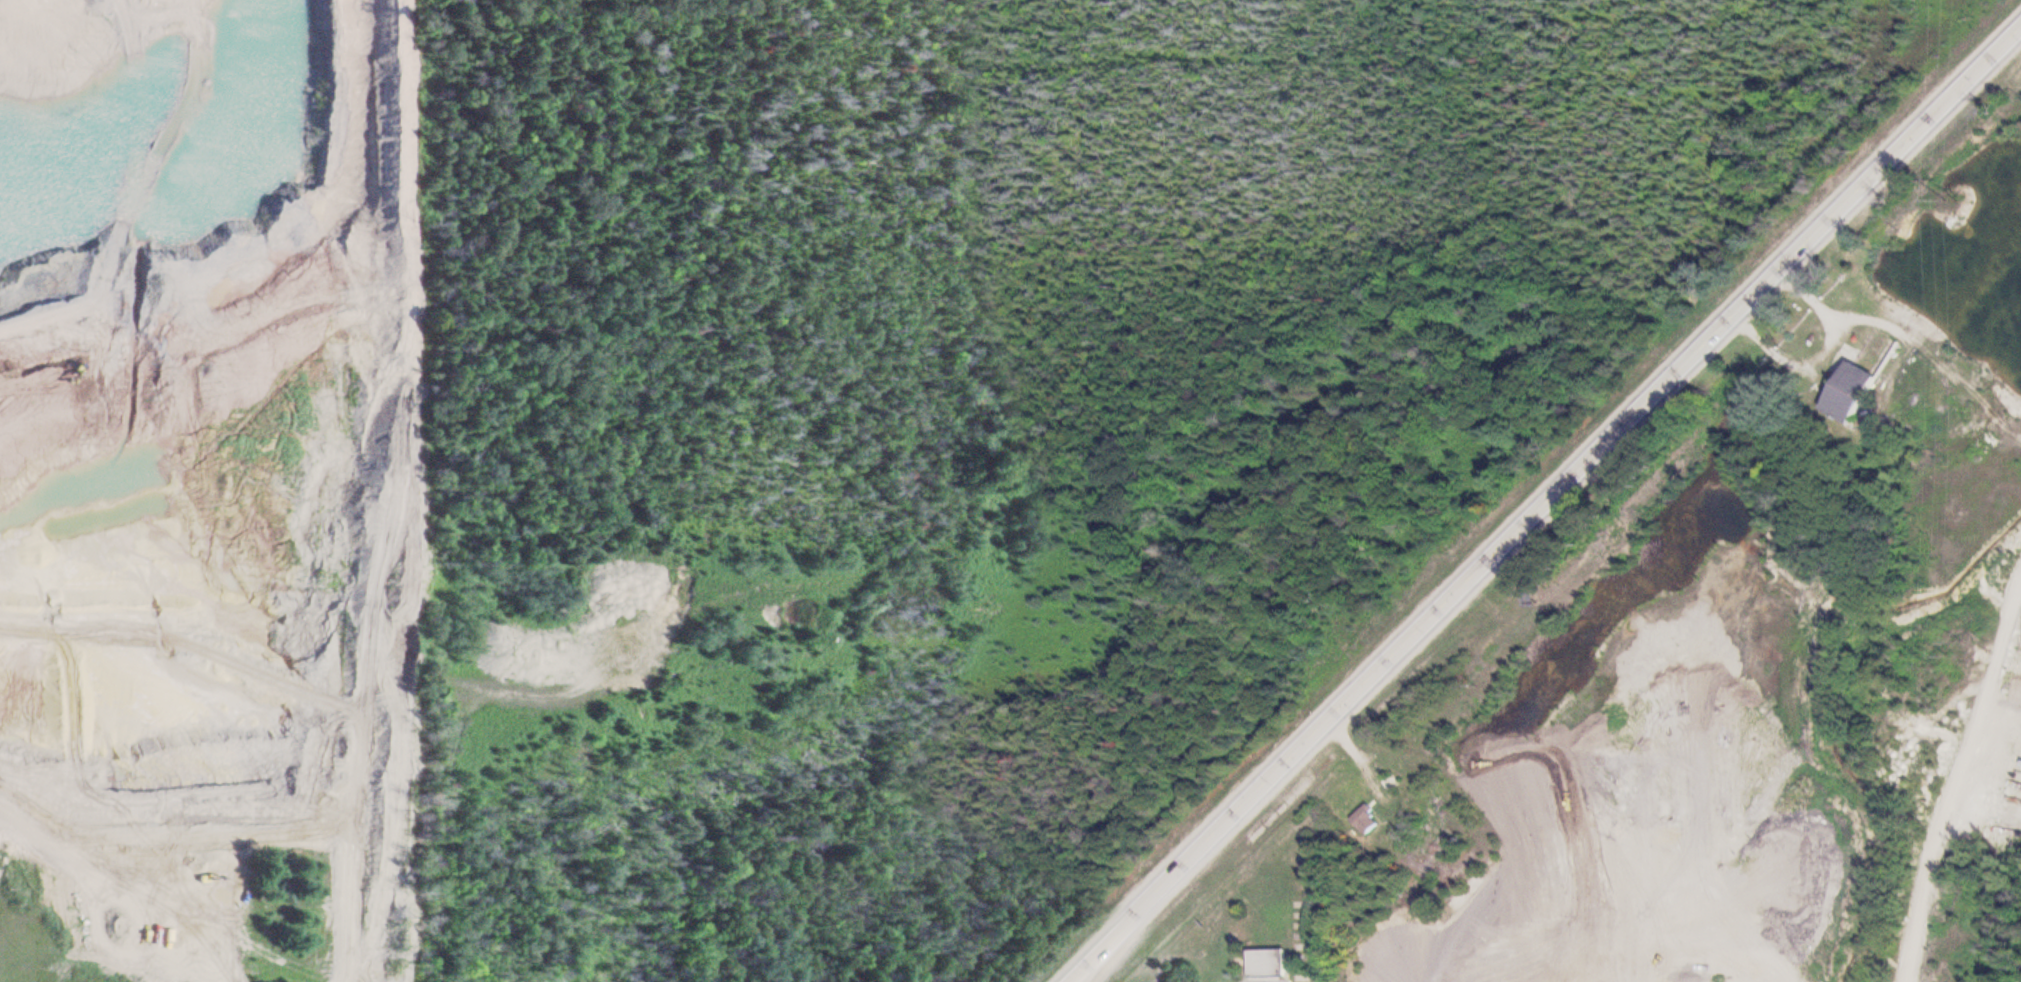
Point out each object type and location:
building: (1852, 393)
quarry: (247, 487)
road: (1544, 507)
road: (1954, 769)
quarry: (1729, 774)
building: (1366, 821)
building: (1270, 965)

